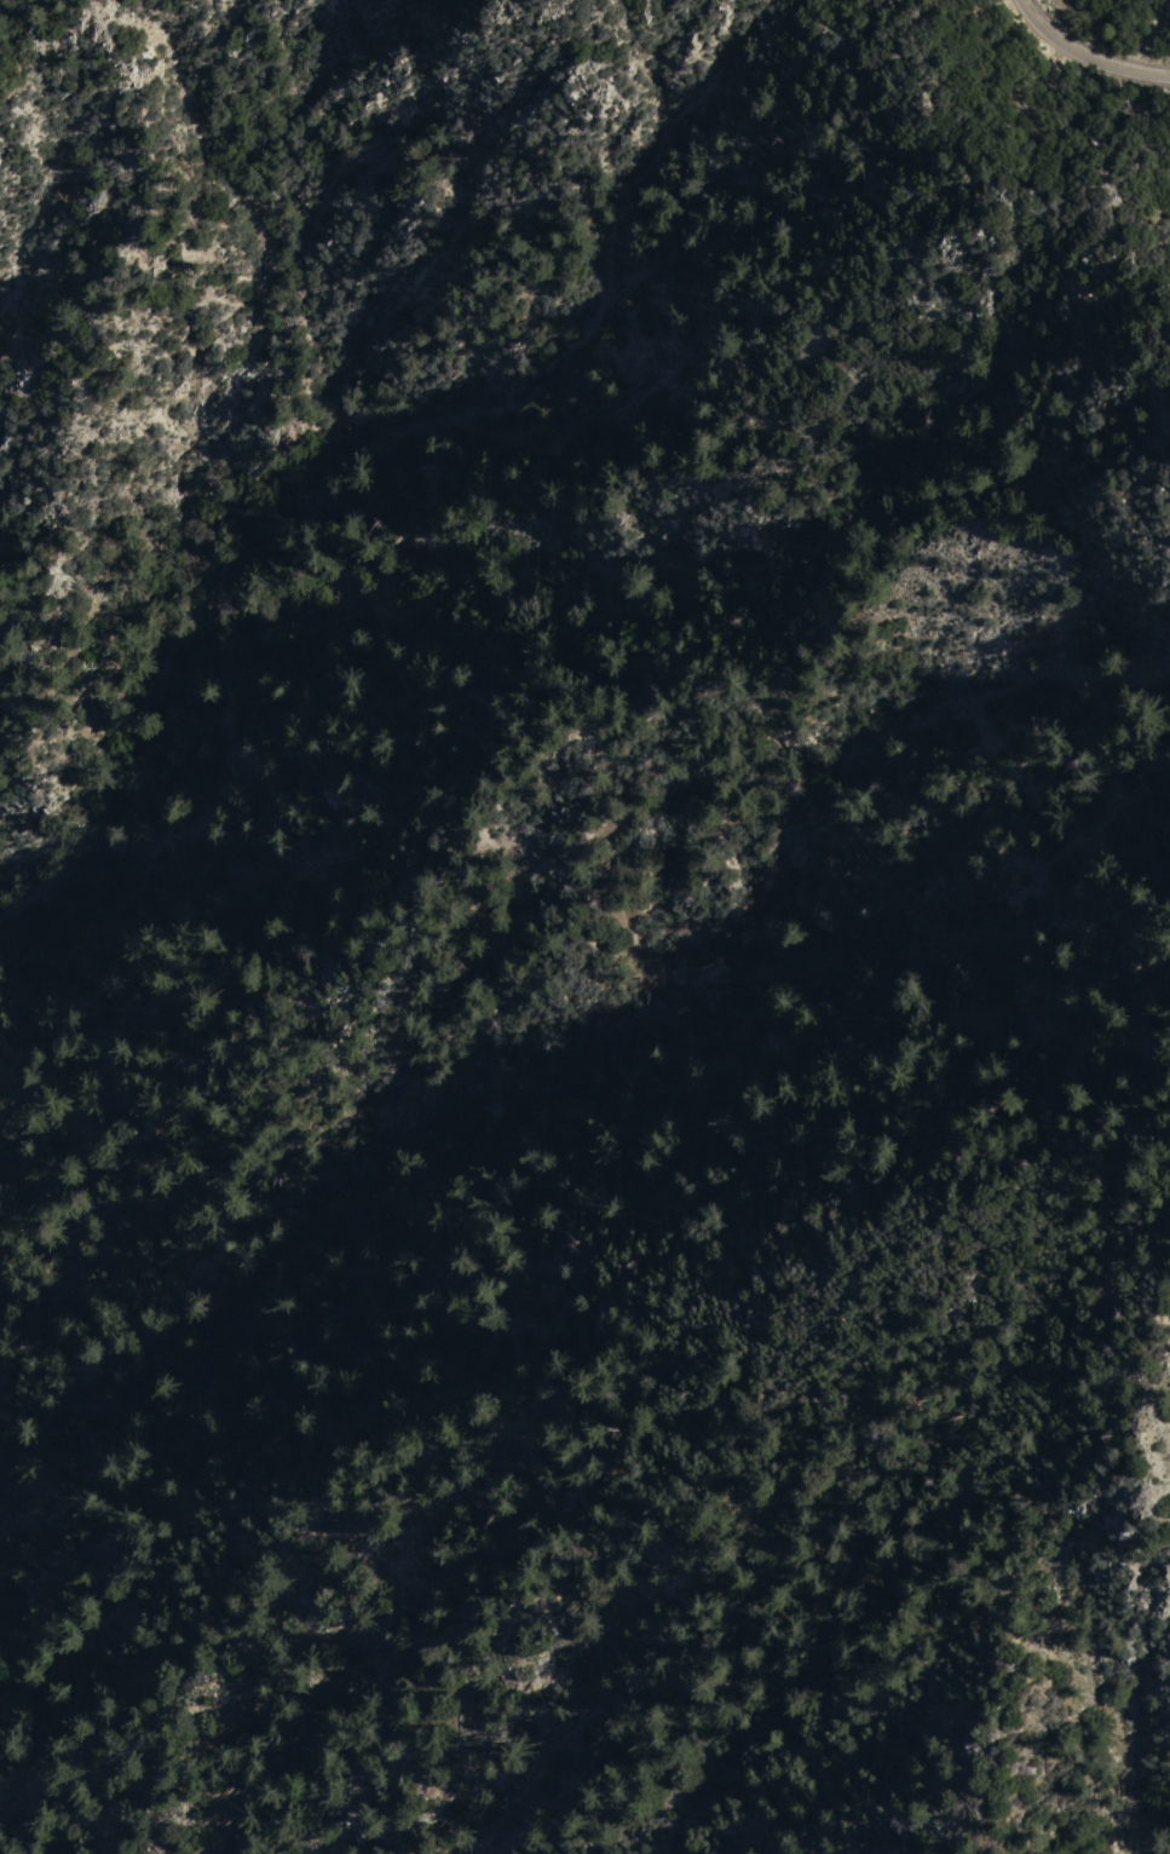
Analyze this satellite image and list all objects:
road: (1087, 54)
road: (1091, 152)

